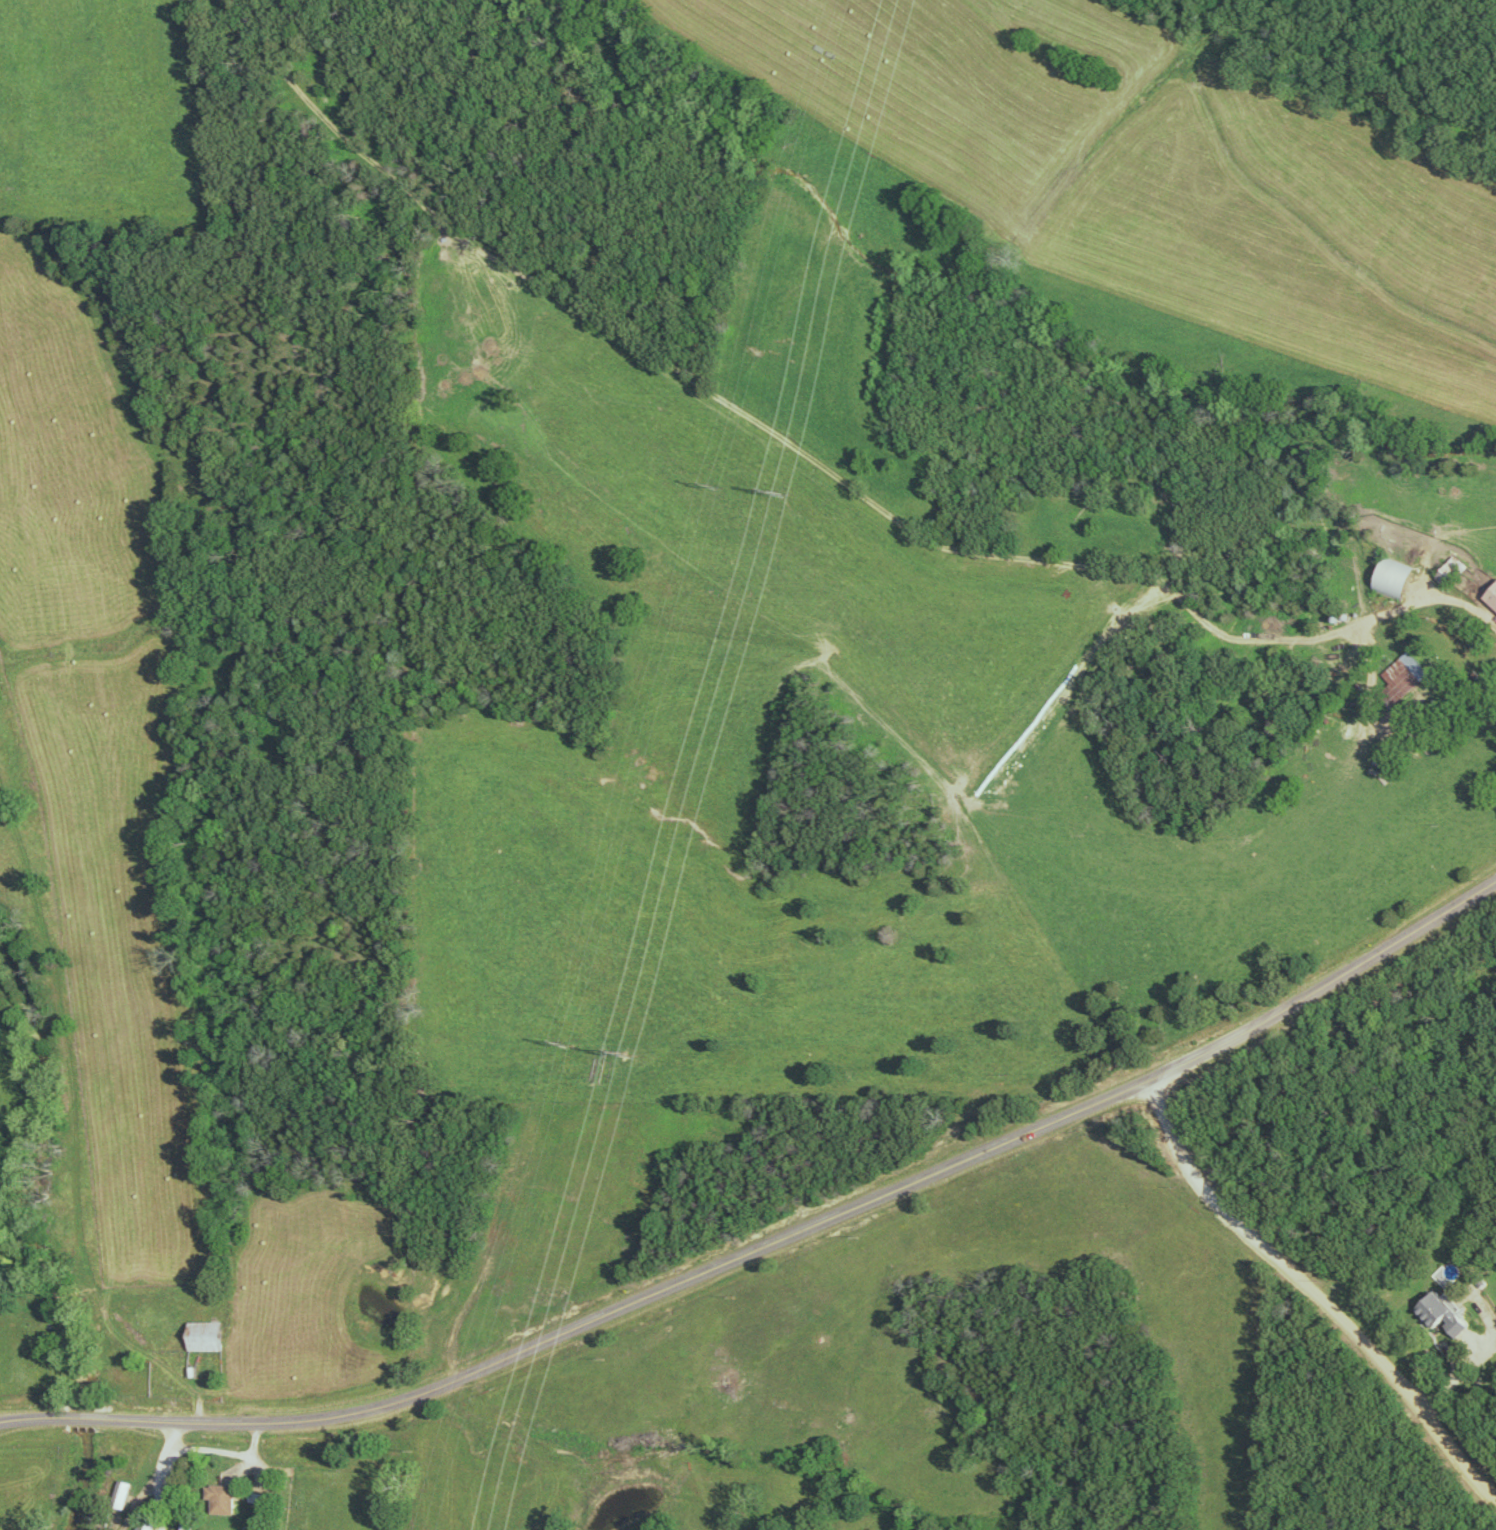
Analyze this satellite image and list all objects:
power tower: (781, 492)
building: (1448, 572)
building: (1490, 597)
road: (1456, 604)
building: (1400, 678)
power tower: (623, 1058)
road: (772, 1241)
road: (1314, 1291)
building: (1437, 1313)
building: (201, 1335)
road: (208, 1452)
road: (155, 1491)
building: (119, 1495)
building: (218, 1499)

